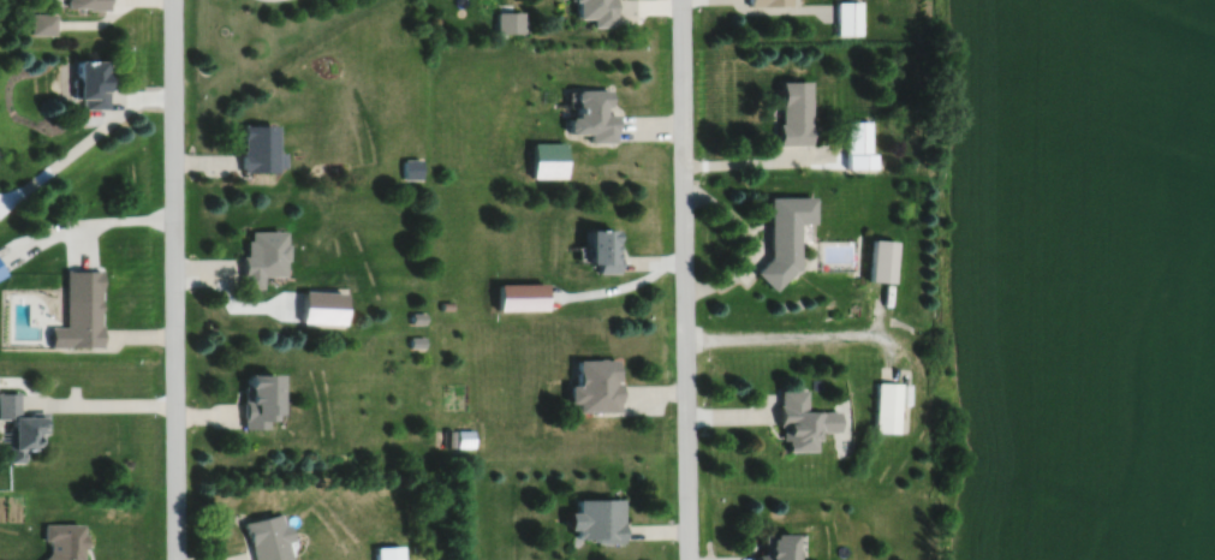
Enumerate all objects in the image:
building: (767, 1)
building: (87, 4)
building: (596, 11)
building: (847, 16)
building: (510, 20)
building: (41, 22)
building: (89, 82)
building: (792, 112)
building: (592, 115)
building: (81, 129)
building: (858, 136)
building: (257, 148)
building: (548, 159)
building: (411, 168)
building: (782, 236)
building: (601, 249)
building: (258, 257)
building: (881, 261)
building: (0, 273)
road: (173, 279)
road: (683, 279)
crop: (1079, 279)
building: (519, 296)
building: (445, 304)
building: (78, 311)
building: (416, 317)
road: (786, 334)
building: (416, 341)
building: (595, 386)
building: (256, 400)
road: (100, 403)
building: (886, 405)
building: (803, 418)
building: (19, 427)
building: (448, 437)
building: (597, 517)
building: (264, 536)
building: (64, 540)
building: (775, 544)
building: (387, 552)

